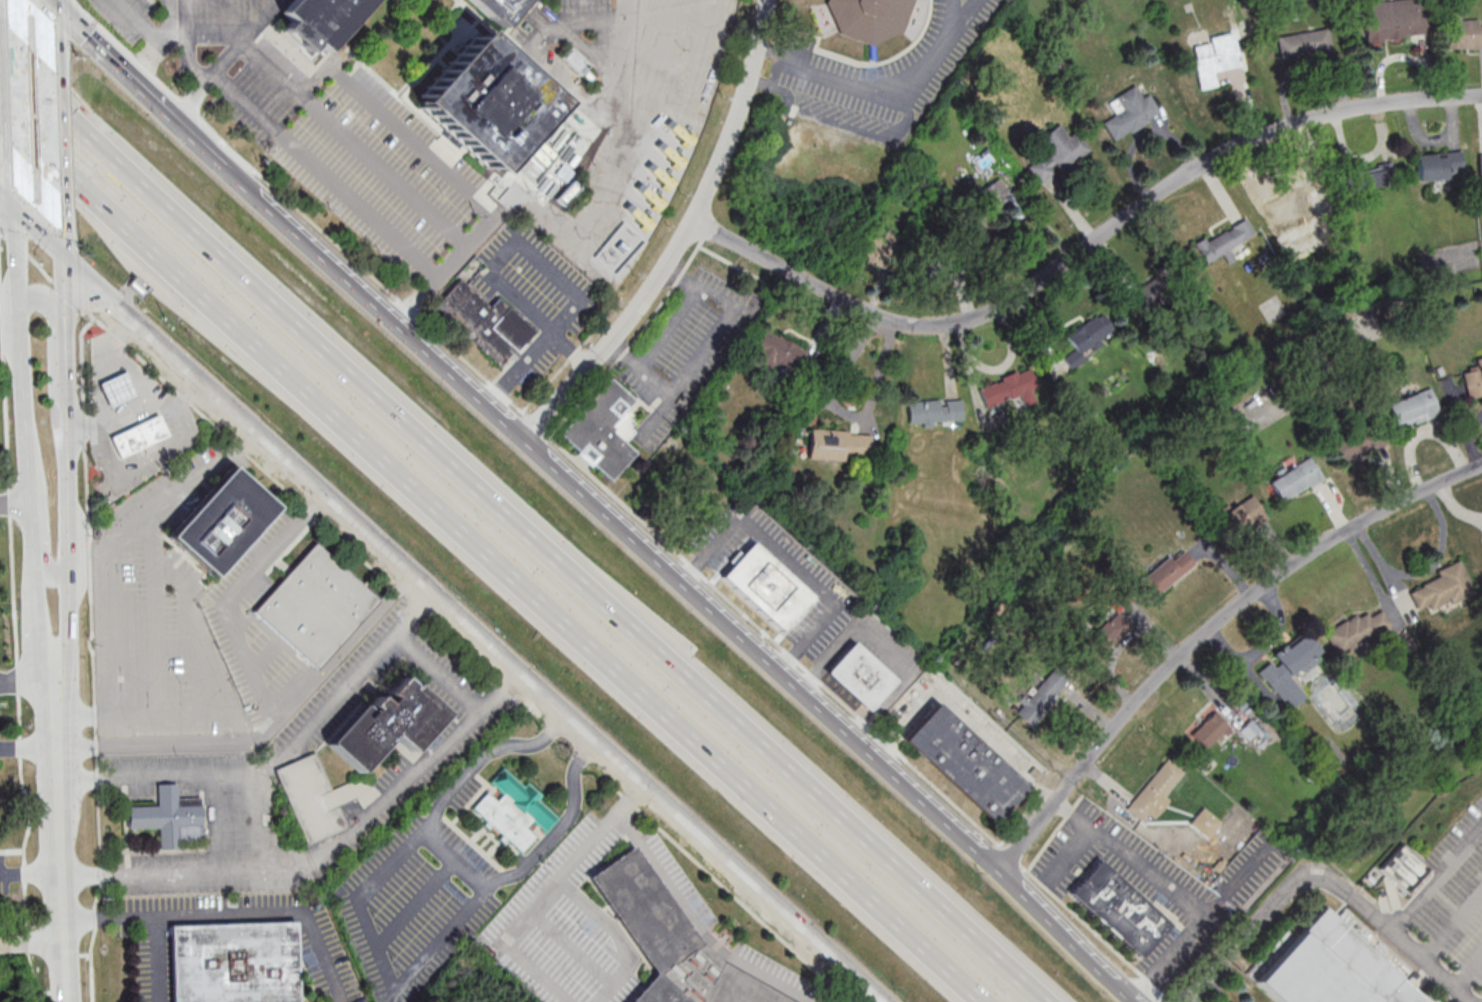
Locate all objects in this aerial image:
road: (49, 1)
road: (49, 1)
traffic signals: (50, 2)
building: (499, 9)
road: (12, 15)
building: (323, 17)
building: (869, 18)
building: (1395, 20)
road: (262, 22)
road: (148, 30)
building: (1462, 32)
road: (52, 37)
building: (1304, 43)
road: (191, 45)
road: (623, 46)
building: (1215, 59)
building: (577, 61)
road: (15, 90)
road: (885, 98)
building: (487, 100)
building: (1130, 111)
road: (55, 130)
road: (354, 145)
building: (1057, 153)
building: (1438, 165)
building: (1480, 165)
building: (1365, 178)
road: (17, 179)
building: (994, 197)
road: (8, 199)
traffic signals: (17, 208)
road: (56, 215)
road: (36, 226)
road: (681, 239)
building: (1224, 240)
traffic signals: (56, 244)
power substation: (618, 249)
building: (878, 249)
road: (1082, 250)
road: (499, 255)
building: (947, 264)
building: (1148, 294)
road: (60, 320)
building: (486, 322)
building: (1087, 338)
road: (708, 340)
road: (120, 350)
parking lot: (688, 352)
building: (780, 355)
road: (22, 359)
road: (637, 373)
road: (141, 378)
building: (1473, 379)
building: (1010, 388)
building: (117, 390)
road: (97, 398)
road: (136, 408)
building: (1411, 409)
road: (491, 410)
road: (842, 411)
building: (936, 412)
building: (601, 431)
building: (138, 437)
building: (1357, 442)
road: (50, 444)
building: (837, 444)
road: (67, 451)
road: (151, 457)
road: (396, 470)
building: (1295, 479)
road: (621, 501)
road: (28, 505)
building: (1242, 516)
building: (219, 524)
road: (520, 526)
road: (111, 535)
parking lot: (789, 561)
road: (789, 561)
building: (1170, 569)
parking lot: (821, 586)
building: (1442, 586)
building: (765, 588)
road: (231, 595)
building: (315, 606)
road: (59, 612)
road: (470, 623)
building: (1353, 630)
road: (1209, 631)
building: (1106, 634)
road: (158, 637)
road: (885, 648)
road: (205, 652)
road: (336, 658)
building: (1289, 670)
building: (858, 678)
road: (30, 680)
road: (502, 691)
building: (1042, 698)
road: (964, 716)
road: (90, 718)
building: (387, 724)
building: (1249, 729)
building: (1210, 730)
road: (62, 735)
road: (160, 746)
road: (31, 750)
road: (281, 753)
road: (63, 764)
building: (963, 765)
building: (1153, 791)
building: (515, 810)
building: (169, 816)
building: (1203, 821)
road: (216, 822)
road: (352, 837)
road: (459, 860)
building: (1405, 868)
road: (33, 875)
road: (1302, 875)
road: (1437, 884)
road: (66, 890)
road: (547, 892)
road: (1170, 892)
building: (1118, 906)
road: (1036, 907)
road: (237, 909)
road: (891, 917)
road: (696, 924)
road: (614, 936)
road: (34, 941)
building: (669, 941)
road: (570, 949)
building: (235, 962)
road: (384, 965)
building: (1331, 968)
road: (1432, 968)
road: (1200, 978)

